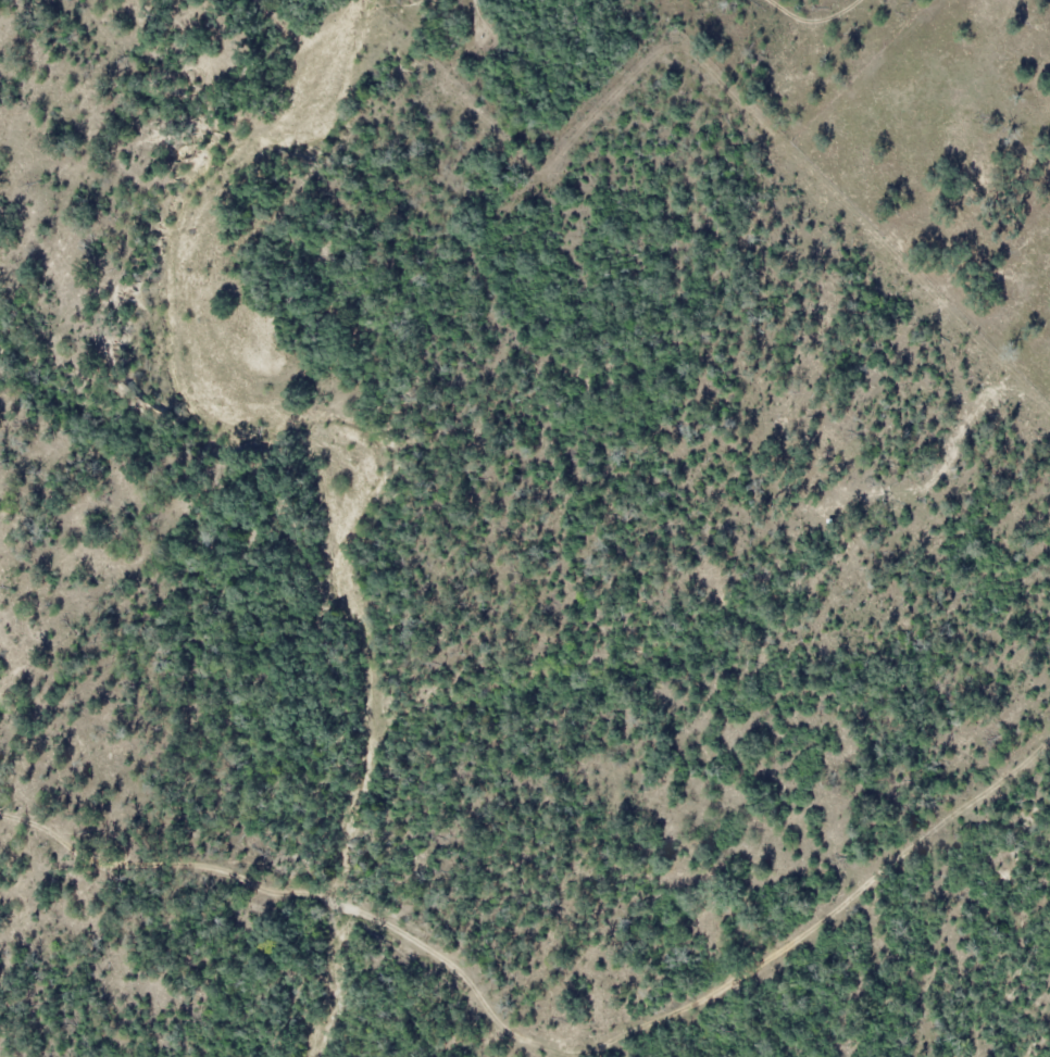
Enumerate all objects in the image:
road: (288, 891)

